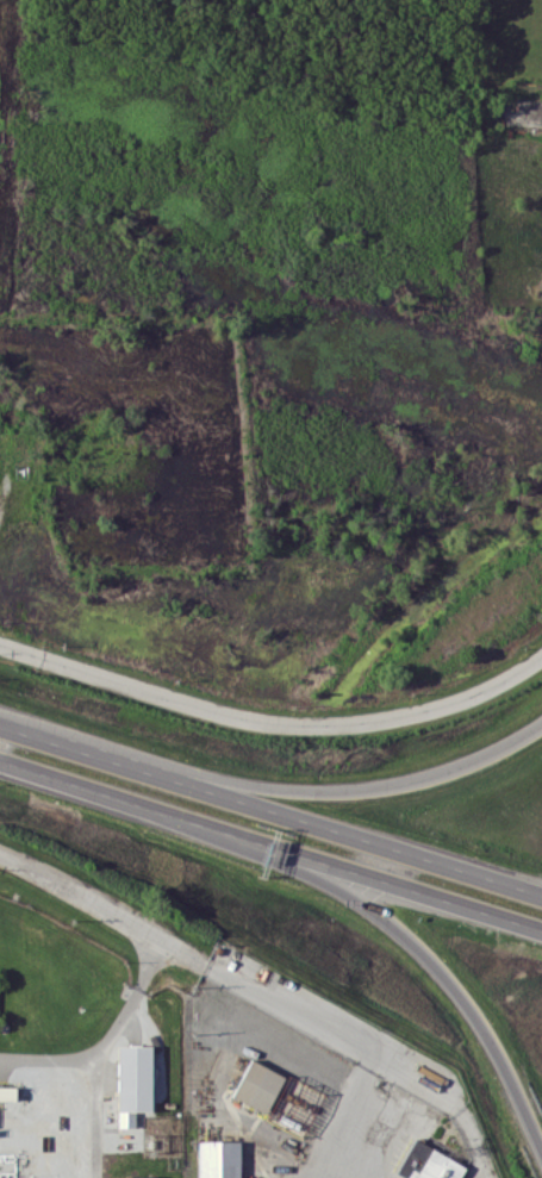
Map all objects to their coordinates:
road: (272, 721)
road: (319, 791)
road: (270, 809)
road: (270, 846)
road: (417, 943)
road: (230, 979)
road: (106, 1037)
building: (132, 1082)
building: (267, 1087)
building: (5, 1092)
road: (342, 1118)
building: (218, 1158)
building: (428, 1163)
building: (138, 1176)

